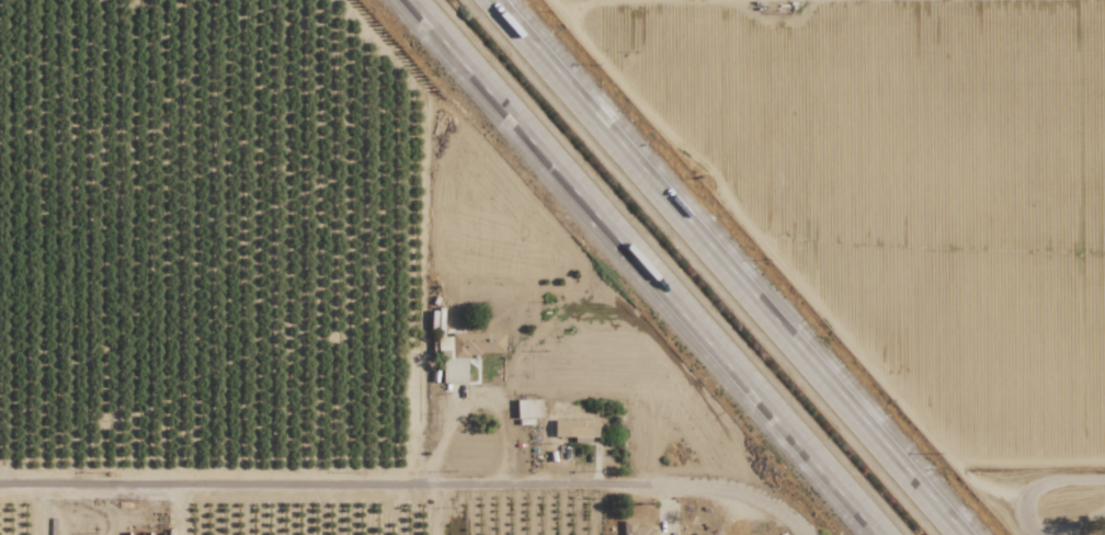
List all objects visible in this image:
road: (659, 266)
road: (747, 266)
building: (464, 351)
road: (477, 391)
building: (528, 408)
building: (576, 429)
road: (409, 482)
road: (1041, 496)
road: (1082, 521)
building: (636, 528)
road: (807, 533)
road: (808, 533)

